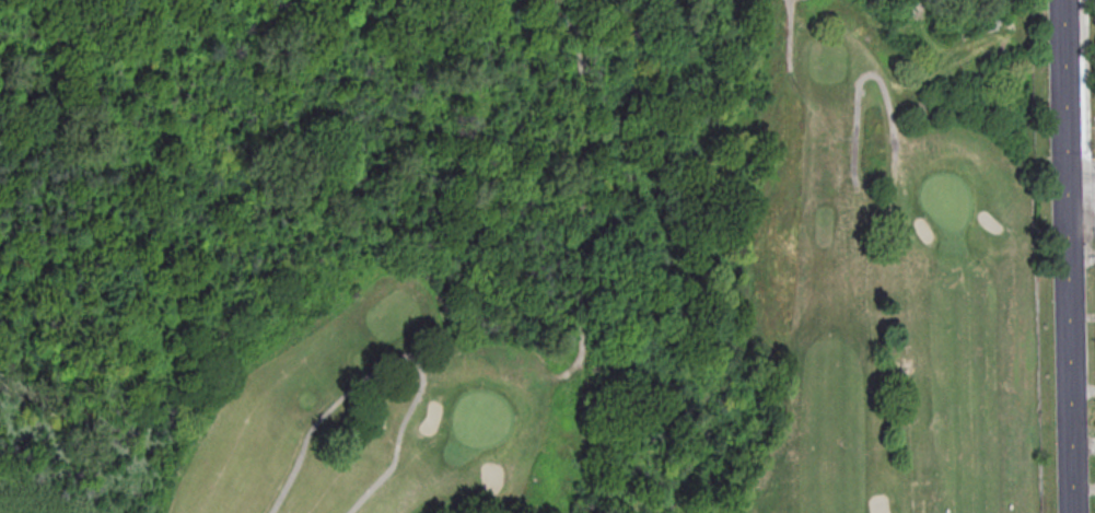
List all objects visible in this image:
road: (788, 34)
road: (886, 101)
road: (1087, 105)
road: (1080, 167)
road: (1080, 195)
road: (1080, 232)
road: (578, 255)
park: (524, 256)
road: (1065, 256)
road: (393, 360)

